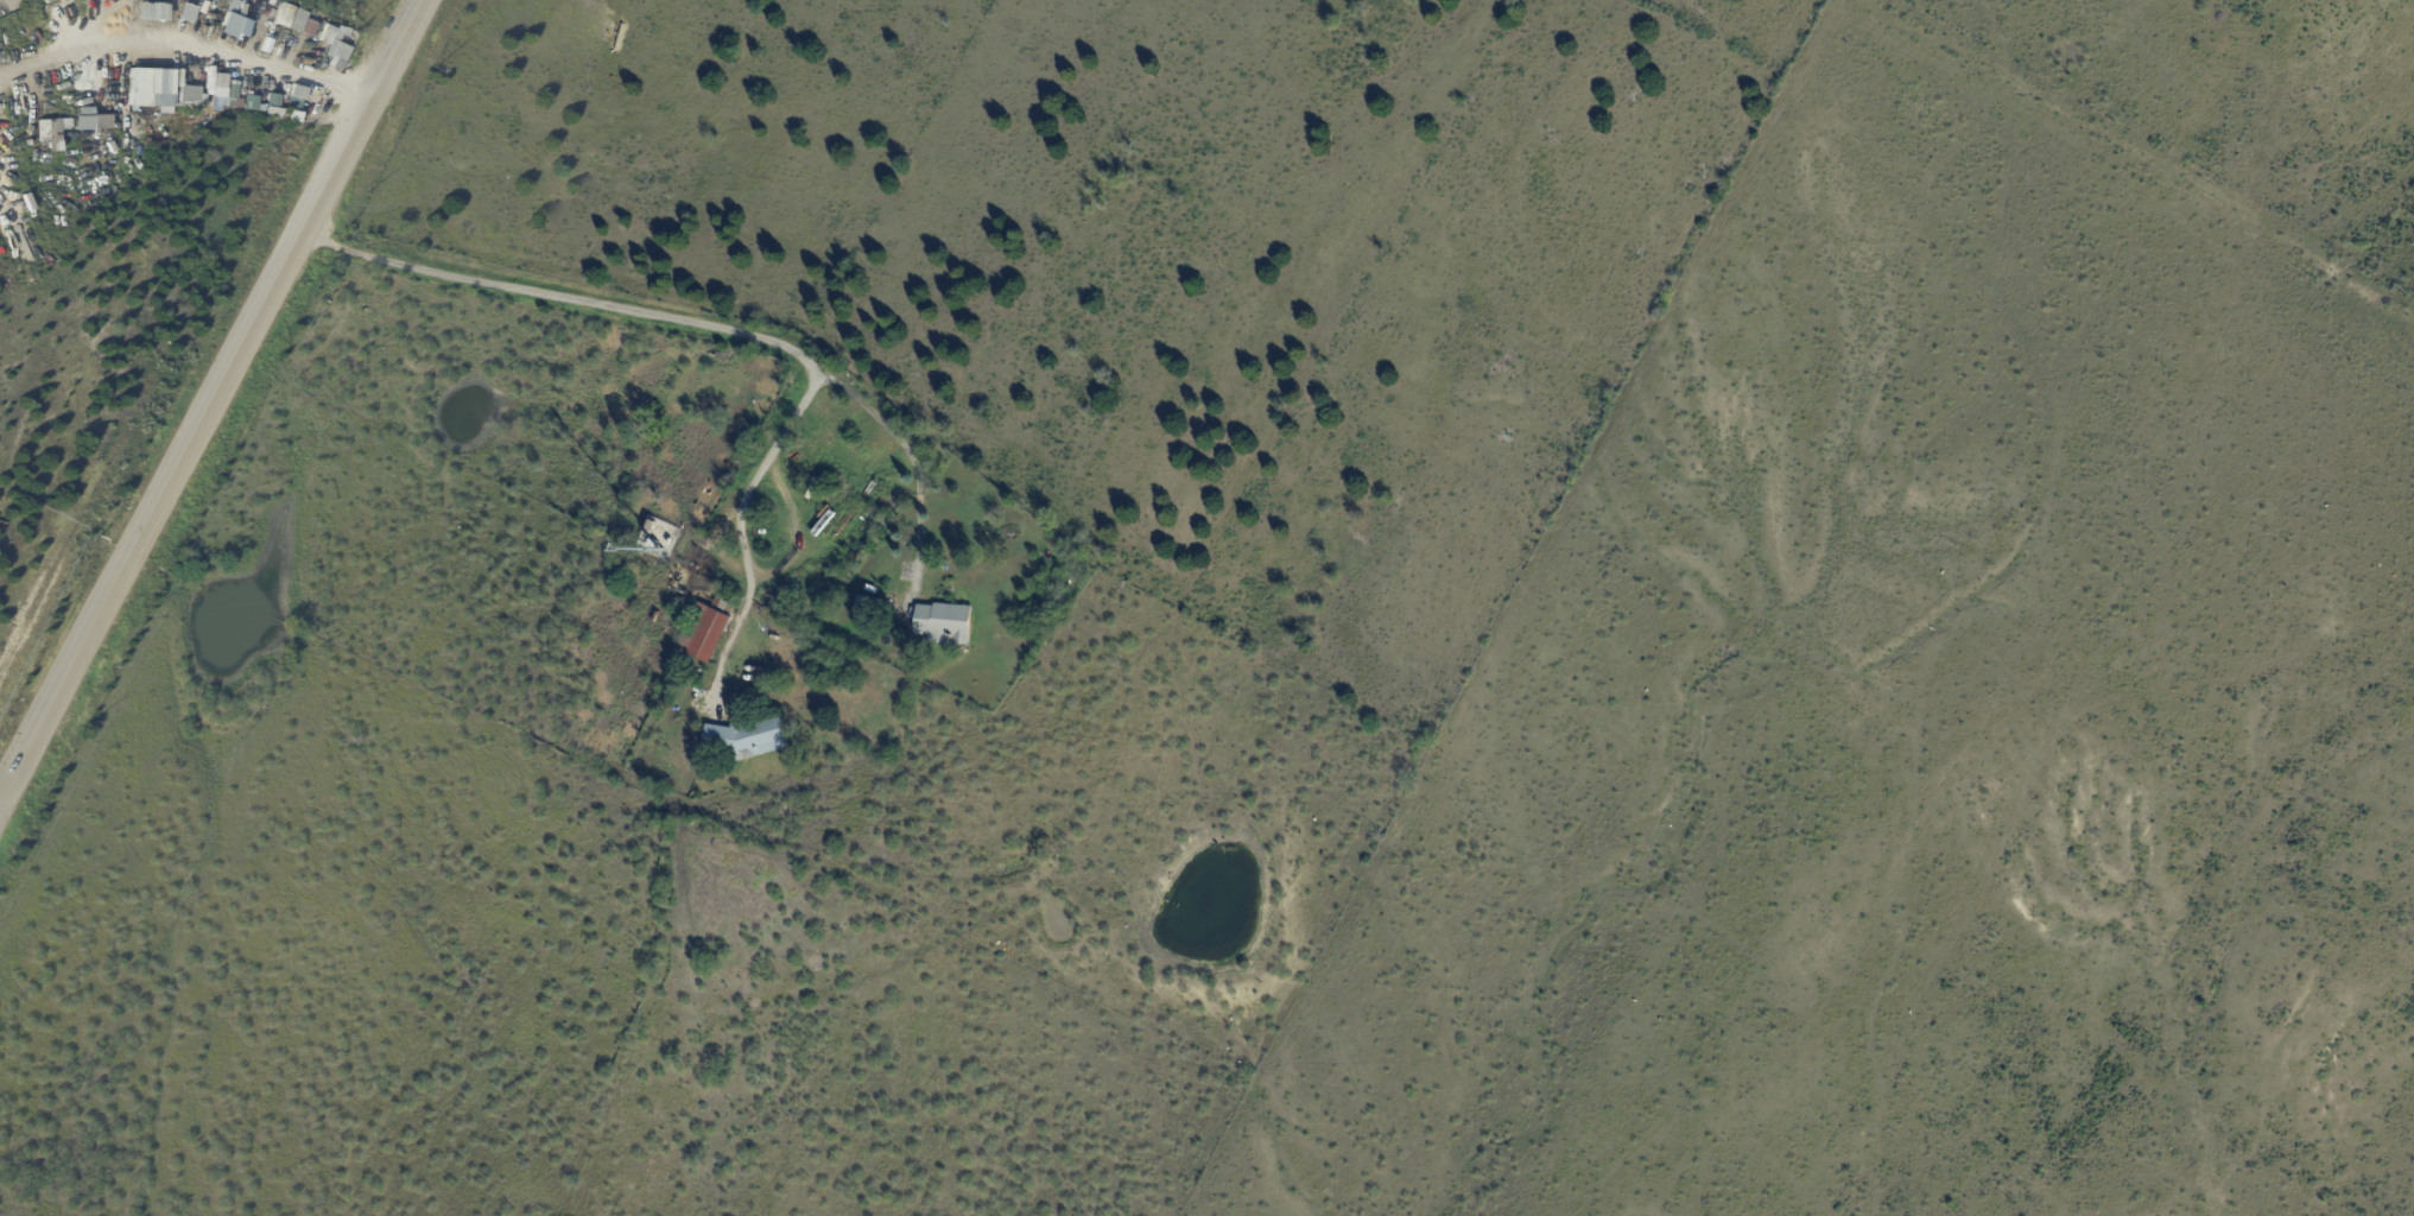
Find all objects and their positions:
building: (232, 6)
building: (185, 12)
building: (104, 14)
building: (204, 19)
building: (293, 19)
building: (228, 25)
road: (223, 45)
building: (156, 89)
road: (562, 300)
road: (210, 395)
road: (913, 467)
road: (742, 519)
building: (652, 526)
building: (654, 544)
building: (873, 606)
building: (946, 623)
building: (708, 629)
building: (820, 639)
building: (746, 741)

